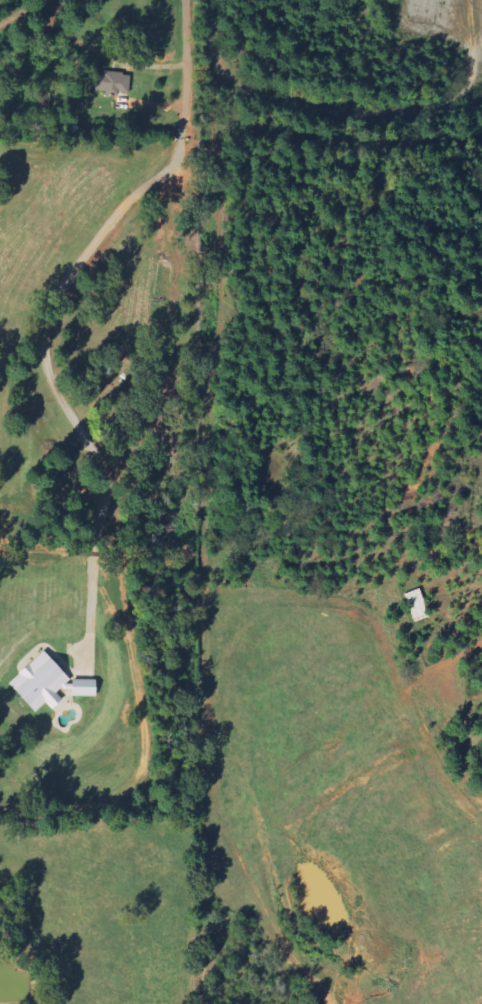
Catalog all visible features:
road: (187, 69)
building: (419, 605)
building: (45, 683)

